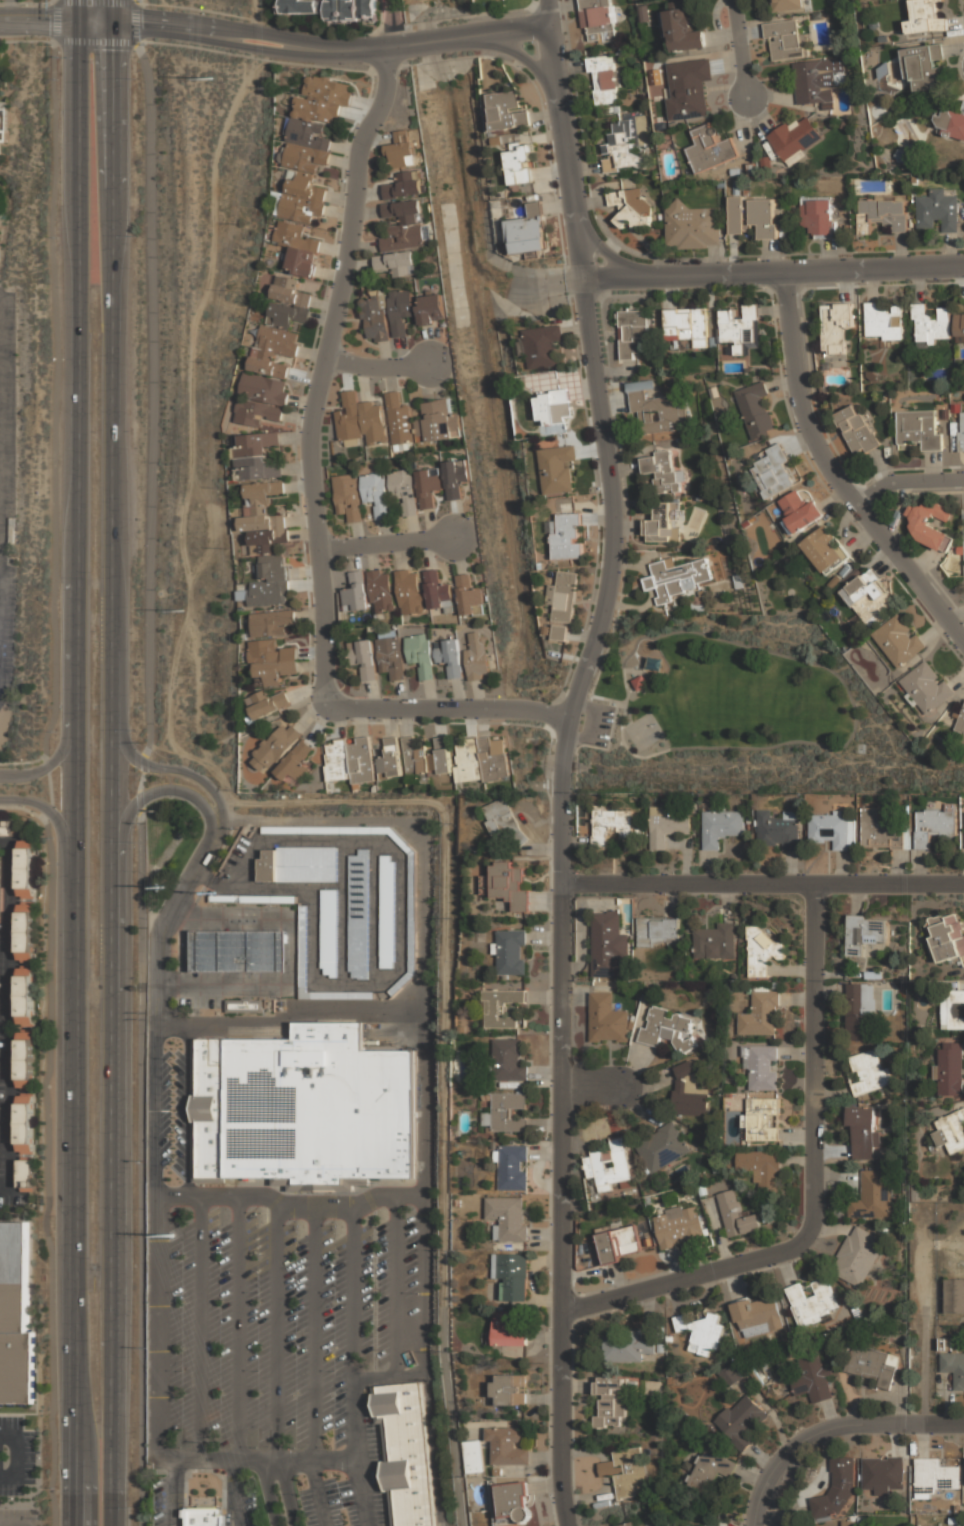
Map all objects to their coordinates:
building: (788, 5)
building: (332, 8)
road: (548, 13)
traffic signals: (111, 14)
road: (55, 15)
traffic signals: (78, 15)
building: (926, 17)
building: (598, 20)
road: (388, 25)
road: (224, 26)
building: (682, 28)
road: (55, 30)
traffic signals: (78, 32)
traffic signals: (112, 32)
road: (494, 32)
building: (785, 39)
road: (430, 41)
road: (223, 43)
road: (403, 47)
road: (741, 49)
road: (362, 51)
road: (518, 54)
building: (923, 64)
building: (604, 78)
power tower: (212, 79)
building: (818, 79)
building: (657, 84)
building: (688, 87)
building: (322, 100)
building: (507, 110)
building: (949, 121)
building: (0, 135)
building: (795, 138)
building: (306, 146)
building: (620, 147)
building: (710, 147)
building: (401, 149)
road: (567, 151)
building: (519, 163)
building: (403, 185)
building: (301, 198)
building: (631, 205)
building: (938, 211)
building: (883, 212)
building: (754, 214)
building: (818, 217)
building: (403, 224)
building: (692, 225)
building: (528, 231)
building: (297, 248)
road: (613, 256)
building: (397, 262)
road: (773, 269)
building: (288, 292)
building: (431, 307)
building: (400, 309)
building: (287, 315)
building: (375, 317)
building: (883, 321)
building: (932, 323)
building: (686, 326)
building: (959, 326)
building: (740, 329)
building: (836, 330)
building: (632, 332)
building: (543, 345)
building: (273, 350)
road: (378, 363)
building: (263, 389)
building: (553, 406)
building: (755, 409)
building: (655, 411)
building: (256, 413)
building: (400, 419)
building: (360, 420)
building: (438, 421)
building: (857, 428)
building: (919, 428)
building: (961, 433)
building: (255, 457)
building: (557, 469)
road: (833, 471)
building: (663, 472)
building: (773, 472)
building: (455, 476)
road: (906, 479)
building: (428, 485)
building: (403, 488)
building: (375, 492)
parking lot: (6, 493)
road: (313, 495)
building: (347, 495)
building: (799, 511)
building: (263, 518)
building: (929, 522)
building: (663, 523)
building: (567, 535)
road: (387, 542)
building: (823, 550)
building: (676, 577)
building: (270, 582)
building: (381, 590)
building: (409, 591)
building: (356, 592)
building: (438, 592)
building: (469, 596)
building: (563, 596)
building: (868, 598)
power tower: (180, 609)
building: (271, 623)
building: (558, 631)
building: (898, 641)
building: (421, 654)
building: (477, 654)
building: (449, 656)
building: (376, 657)
building: (271, 662)
building: (640, 681)
road: (843, 682)
building: (926, 687)
road: (609, 698)
building: (267, 703)
park: (735, 710)
building: (960, 722)
parking lot: (595, 723)
road: (598, 725)
road: (622, 730)
park: (645, 730)
road: (609, 737)
building: (275, 746)
building: (390, 758)
building: (426, 758)
road: (53, 760)
building: (337, 760)
building: (480, 760)
building: (361, 761)
road: (113, 762)
road: (146, 762)
building: (295, 762)
road: (76, 763)
road: (170, 768)
road: (562, 789)
road: (153, 790)
road: (55, 817)
building: (504, 822)
building: (610, 825)
road: (405, 826)
building: (666, 826)
building: (933, 826)
building: (721, 827)
building: (6, 828)
building: (829, 830)
building: (851, 830)
building: (777, 831)
building: (879, 831)
building: (298, 865)
building: (25, 869)
building: (0, 877)
building: (387, 881)
road: (762, 882)
building: (509, 885)
building: (253, 899)
road: (1, 909)
building: (358, 915)
building: (660, 929)
building: (863, 934)
building: (947, 937)
building: (716, 941)
building: (608, 944)
building: (385, 948)
building: (303, 949)
building: (762, 949)
building: (239, 950)
building: (509, 951)
road: (287, 957)
road: (402, 966)
road: (158, 982)
building: (25, 997)
building: (245, 1006)
building: (501, 1008)
road: (376, 1009)
building: (952, 1009)
building: (859, 1010)
building: (761, 1015)
building: (607, 1019)
building: (668, 1028)
road: (446, 1053)
road: (814, 1054)
building: (25, 1060)
building: (508, 1060)
building: (762, 1068)
building: (950, 1069)
building: (867, 1072)
road: (592, 1086)
building: (689, 1091)
building: (301, 1106)
building: (507, 1111)
road: (189, 1113)
building: (763, 1119)
building: (25, 1129)
building: (951, 1131)
building: (863, 1132)
building: (663, 1146)
building: (609, 1163)
building: (762, 1167)
building: (512, 1168)
building: (873, 1196)
building: (737, 1214)
building: (508, 1218)
building: (679, 1225)
power tower: (175, 1237)
building: (619, 1242)
building: (857, 1256)
road: (394, 1263)
building: (511, 1275)
road: (691, 1275)
road: (420, 1283)
road: (353, 1292)
building: (955, 1295)
building: (811, 1302)
parking lot: (271, 1308)
building: (757, 1315)
building: (17, 1317)
parking lot: (282, 1321)
building: (680, 1323)
road: (200, 1329)
road: (238, 1329)
building: (507, 1331)
road: (279, 1332)
road: (315, 1332)
building: (705, 1335)
building: (946, 1344)
building: (627, 1347)
road: (158, 1353)
building: (408, 1359)
road: (925, 1364)
building: (872, 1365)
building: (954, 1368)
building: (730, 1375)
building: (812, 1378)
building: (508, 1391)
building: (610, 1400)
road: (559, 1418)
building: (742, 1421)
road: (909, 1423)
building: (507, 1446)
road: (432, 1448)
building: (404, 1454)
road: (783, 1454)
building: (473, 1456)
road: (15, 1457)
road: (271, 1460)
building: (711, 1470)
building: (629, 1473)
building: (884, 1473)
building: (933, 1477)
parking lot: (344, 1484)
building: (836, 1488)
road: (172, 1492)
road: (317, 1492)
road: (361, 1492)
road: (238, 1493)
road: (270, 1493)
road: (286, 1493)
building: (513, 1501)
building: (206, 1516)
building: (848, 1523)
road: (14, 1524)
building: (627, 1524)

